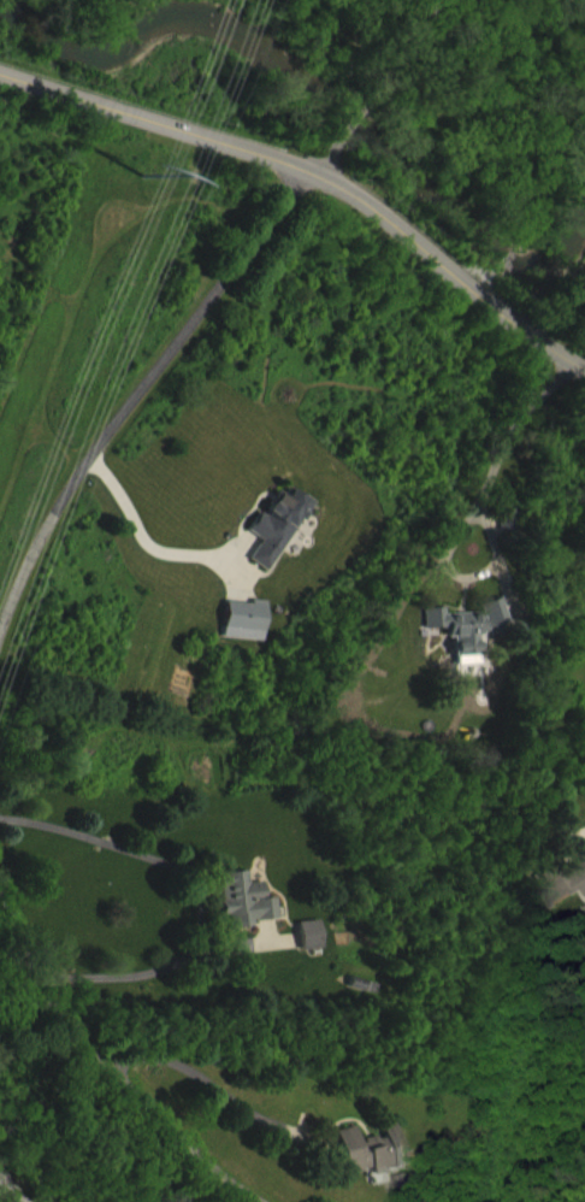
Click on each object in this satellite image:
road: (378, 87)
power tower: (142, 158)
road: (315, 172)
road: (134, 389)
road: (474, 512)
road: (141, 534)
building: (284, 541)
building: (252, 636)
building: (474, 643)
road: (197, 895)
building: (565, 898)
building: (252, 915)
building: (318, 950)
road: (102, 1061)
building: (378, 1166)

